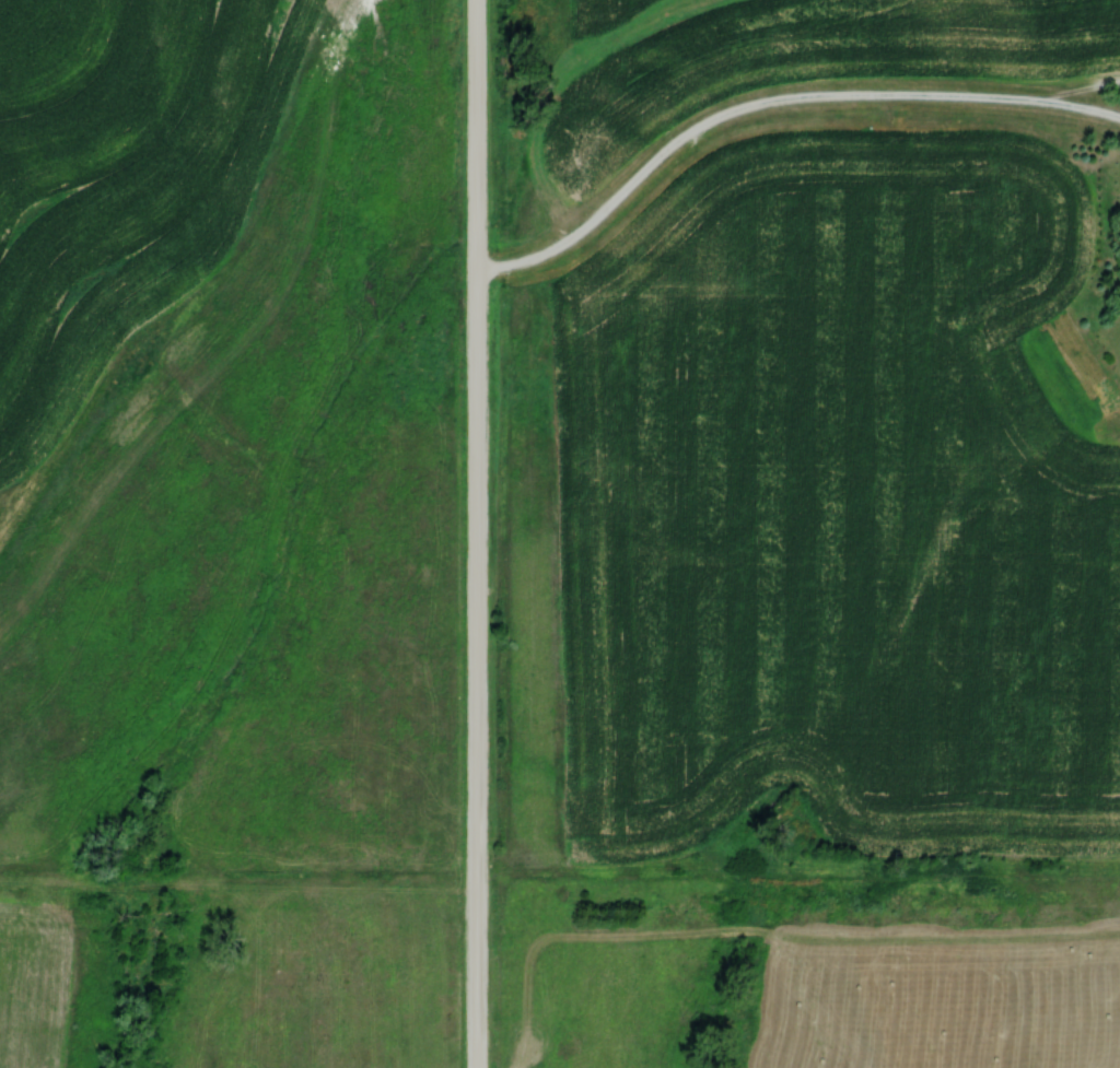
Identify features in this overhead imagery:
road: (771, 103)
road: (475, 533)

